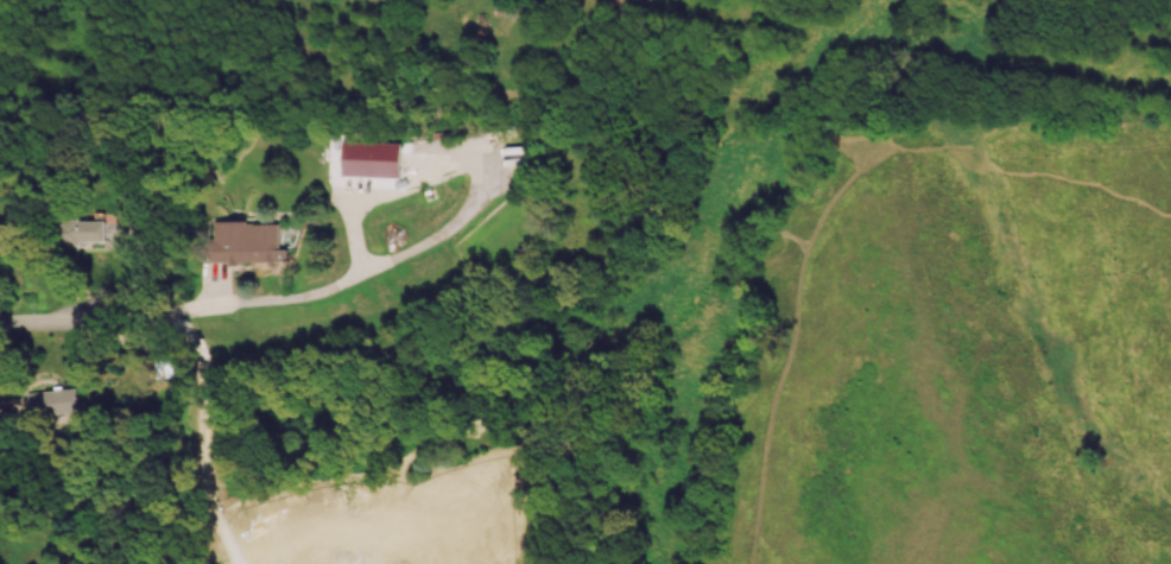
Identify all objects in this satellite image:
building: (371, 158)
road: (404, 183)
building: (84, 230)
building: (247, 242)
road: (251, 308)
building: (51, 401)

